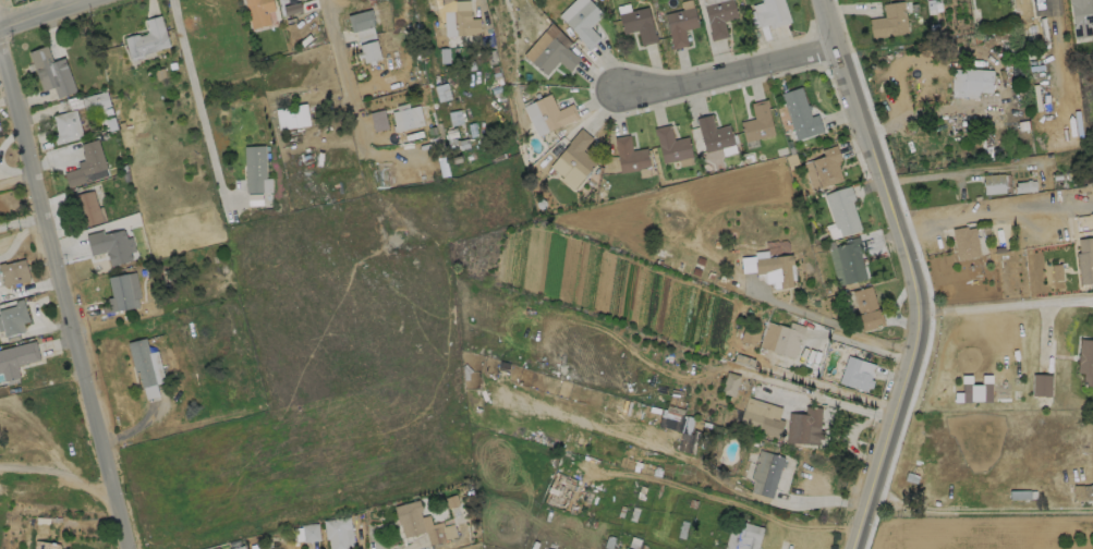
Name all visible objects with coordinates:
building: (257, 11)
building: (772, 13)
building: (718, 16)
road: (51, 17)
building: (1081, 17)
building: (360, 19)
building: (888, 21)
building: (464, 23)
building: (584, 23)
building: (637, 24)
building: (679, 25)
building: (146, 39)
building: (368, 50)
building: (552, 56)
road: (340, 70)
road: (718, 70)
building: (50, 72)
building: (969, 82)
building: (441, 91)
building: (95, 101)
road: (197, 102)
road: (924, 108)
building: (554, 112)
building: (800, 113)
building: (409, 114)
building: (292, 115)
building: (757, 121)
building: (65, 125)
building: (715, 135)
building: (671, 145)
building: (578, 152)
building: (630, 155)
building: (85, 162)
building: (826, 166)
building: (253, 167)
building: (993, 183)
building: (1024, 186)
building: (88, 207)
building: (841, 209)
road: (992, 213)
road: (21, 220)
building: (963, 242)
building: (110, 245)
building: (850, 259)
building: (1084, 259)
building: (769, 268)
building: (13, 271)
road: (903, 271)
building: (1056, 271)
road: (61, 286)
building: (122, 291)
road: (999, 305)
building: (865, 308)
building: (13, 319)
road: (826, 320)
building: (781, 338)
building: (16, 357)
building: (141, 361)
building: (1085, 361)
building: (768, 362)
building: (857, 373)
building: (730, 383)
building: (1042, 385)
building: (976, 392)
building: (761, 416)
building: (804, 426)
building: (688, 444)
building: (765, 472)
road: (63, 474)
building: (1083, 491)
building: (421, 522)
building: (338, 532)
building: (309, 533)
building: (742, 535)
building: (45, 545)
building: (238, 547)

